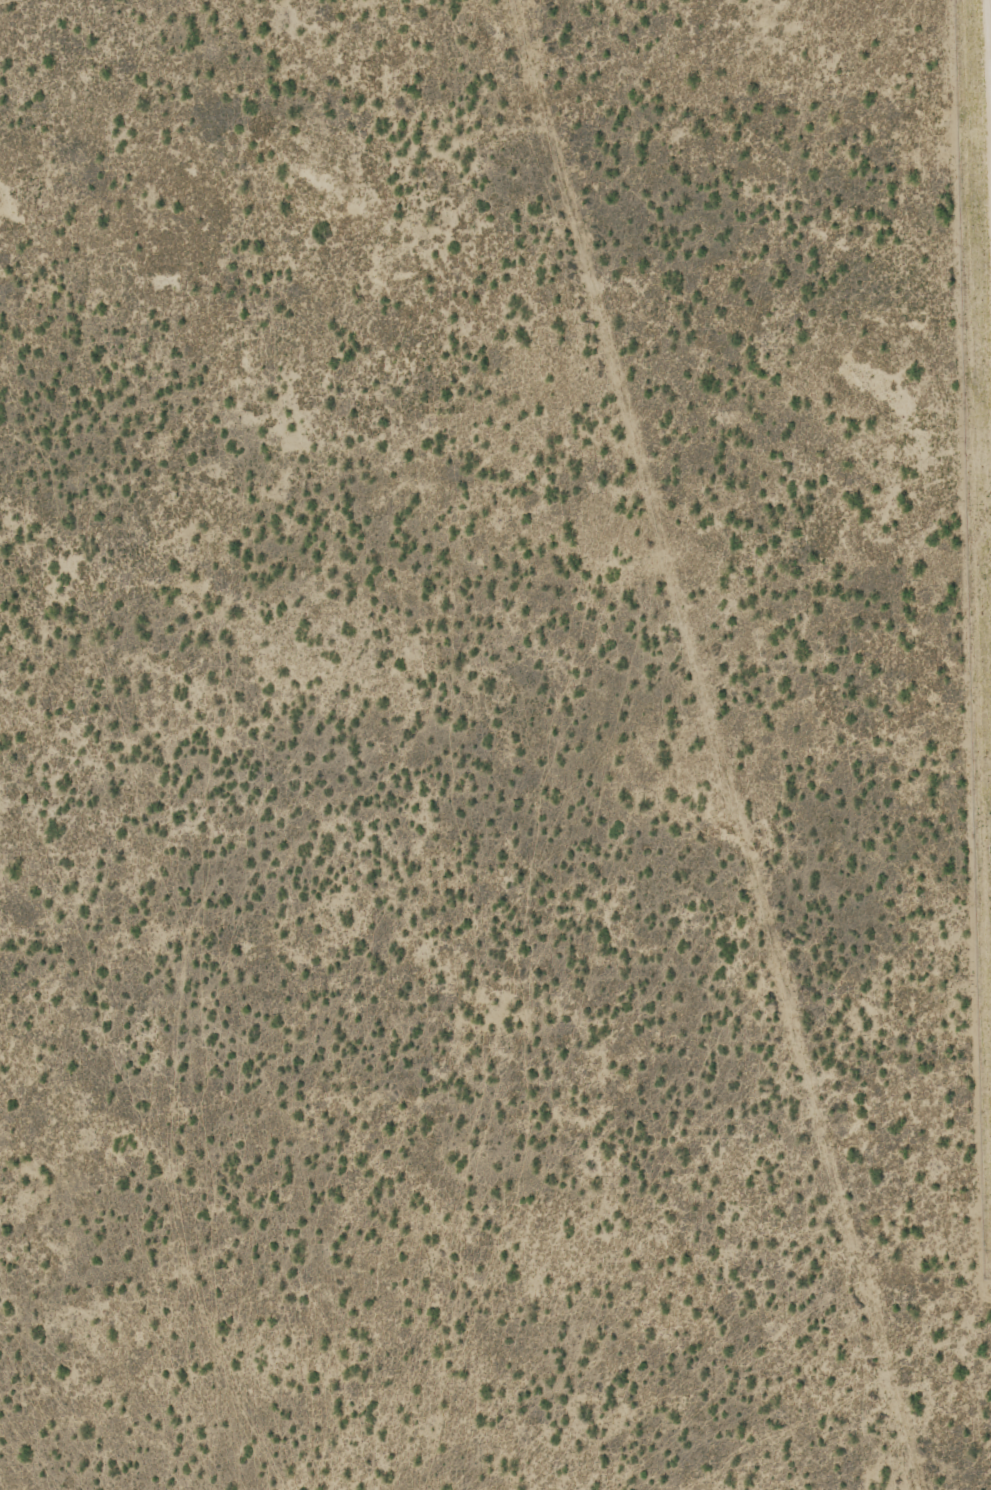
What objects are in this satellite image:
solar farm: (977, 542)

